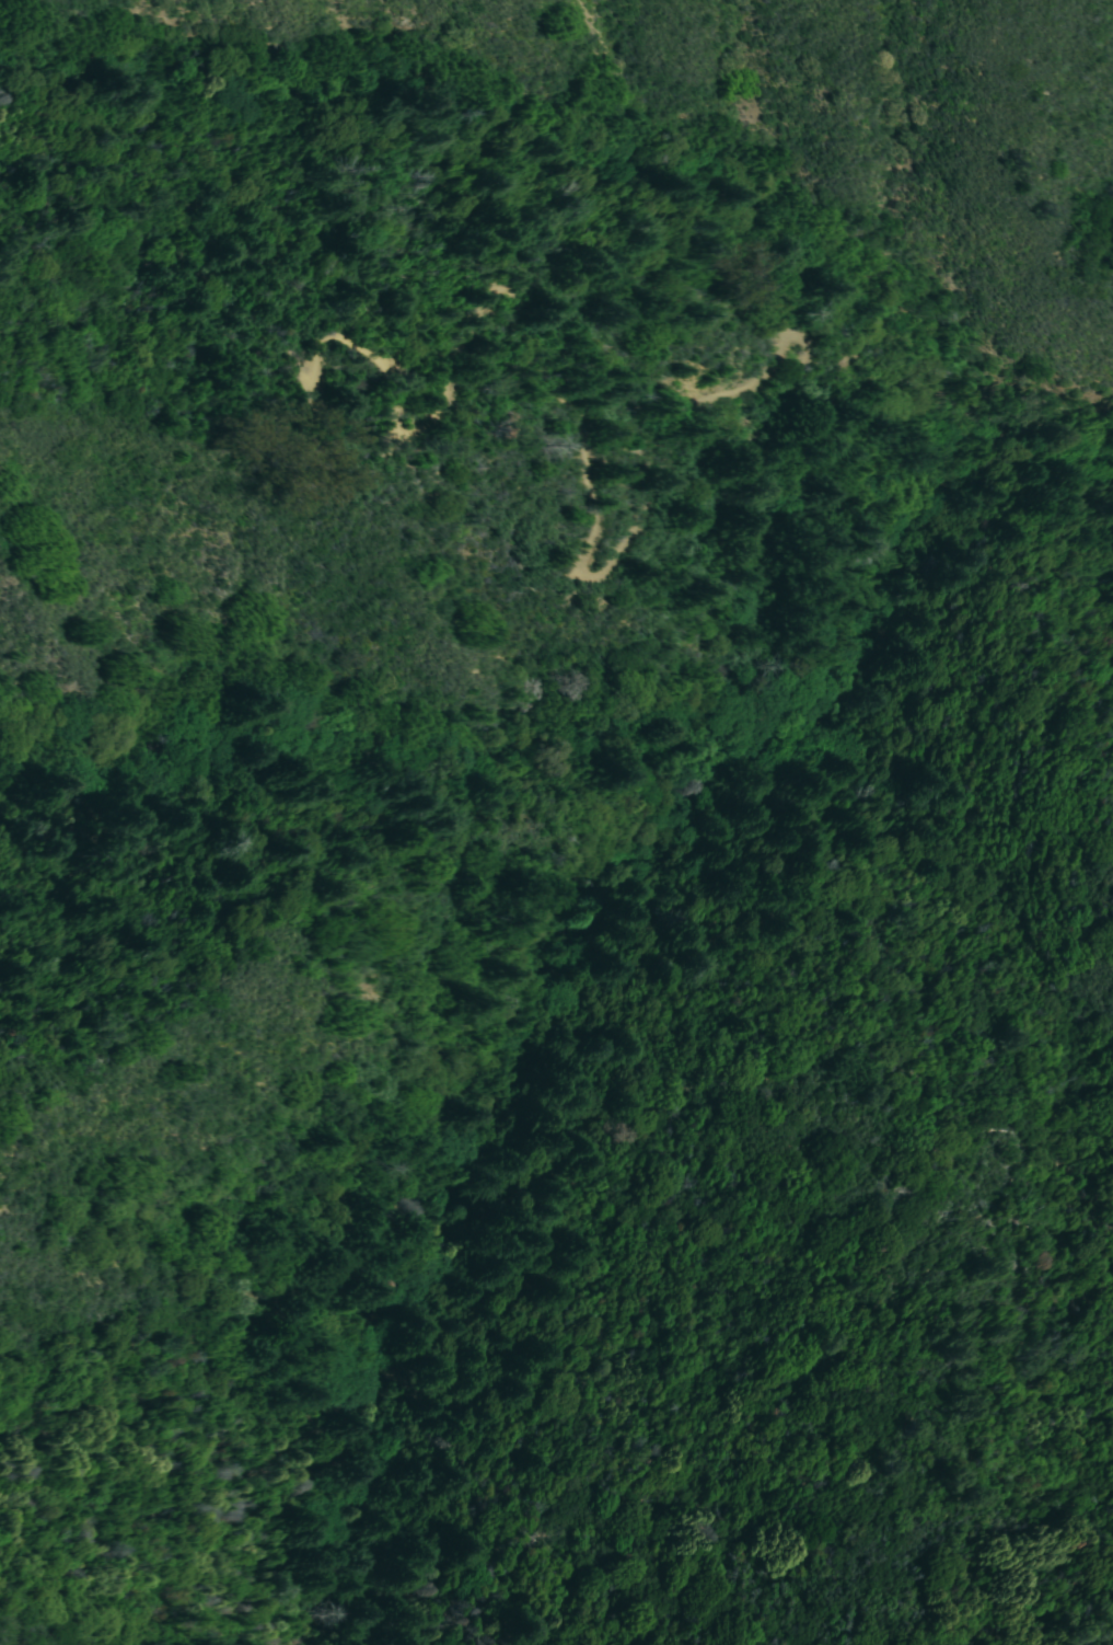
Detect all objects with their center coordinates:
road: (997, 398)
road: (965, 448)
road: (974, 450)
road: (1046, 463)
road: (858, 552)
road: (2, 564)
road: (308, 580)
road: (863, 587)
road: (697, 733)
road: (610, 757)
road: (704, 1140)
road: (445, 1173)

